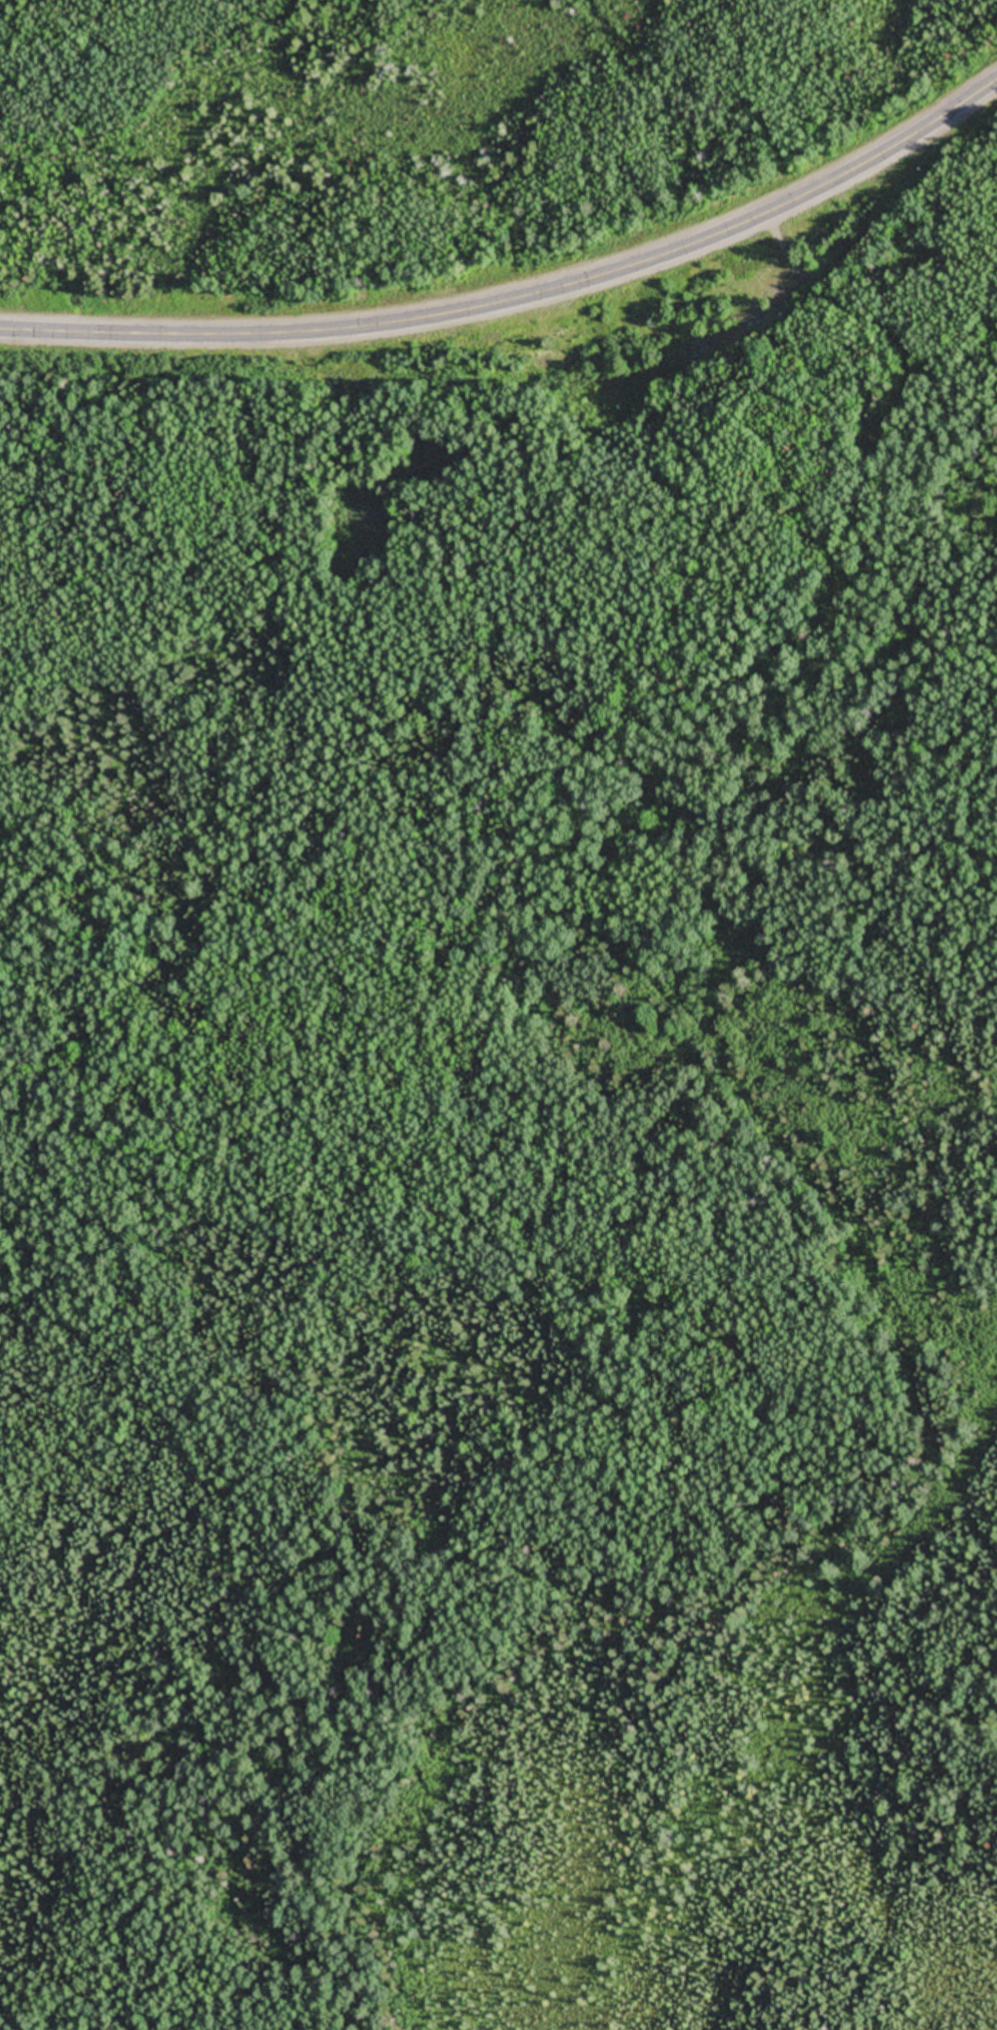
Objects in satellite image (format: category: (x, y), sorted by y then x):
road: (521, 298)

